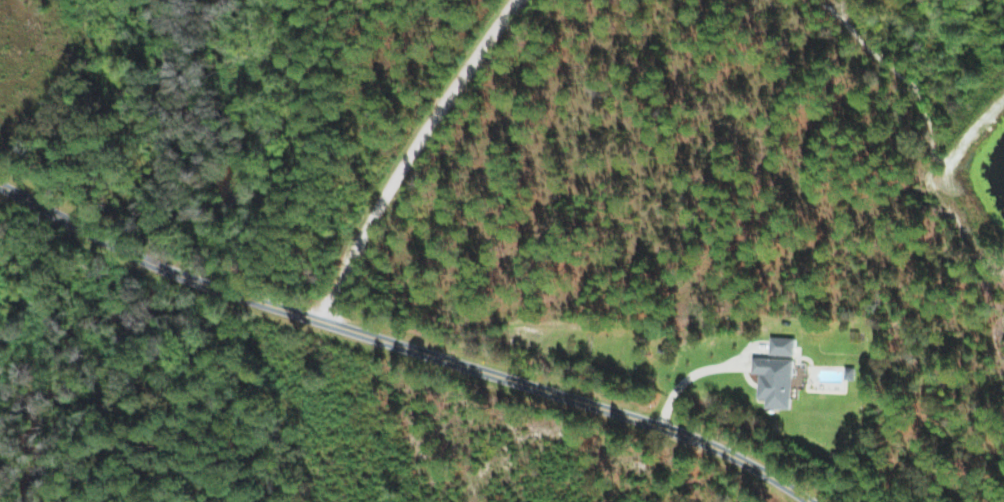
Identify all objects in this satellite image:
building: (778, 345)
road: (402, 347)

